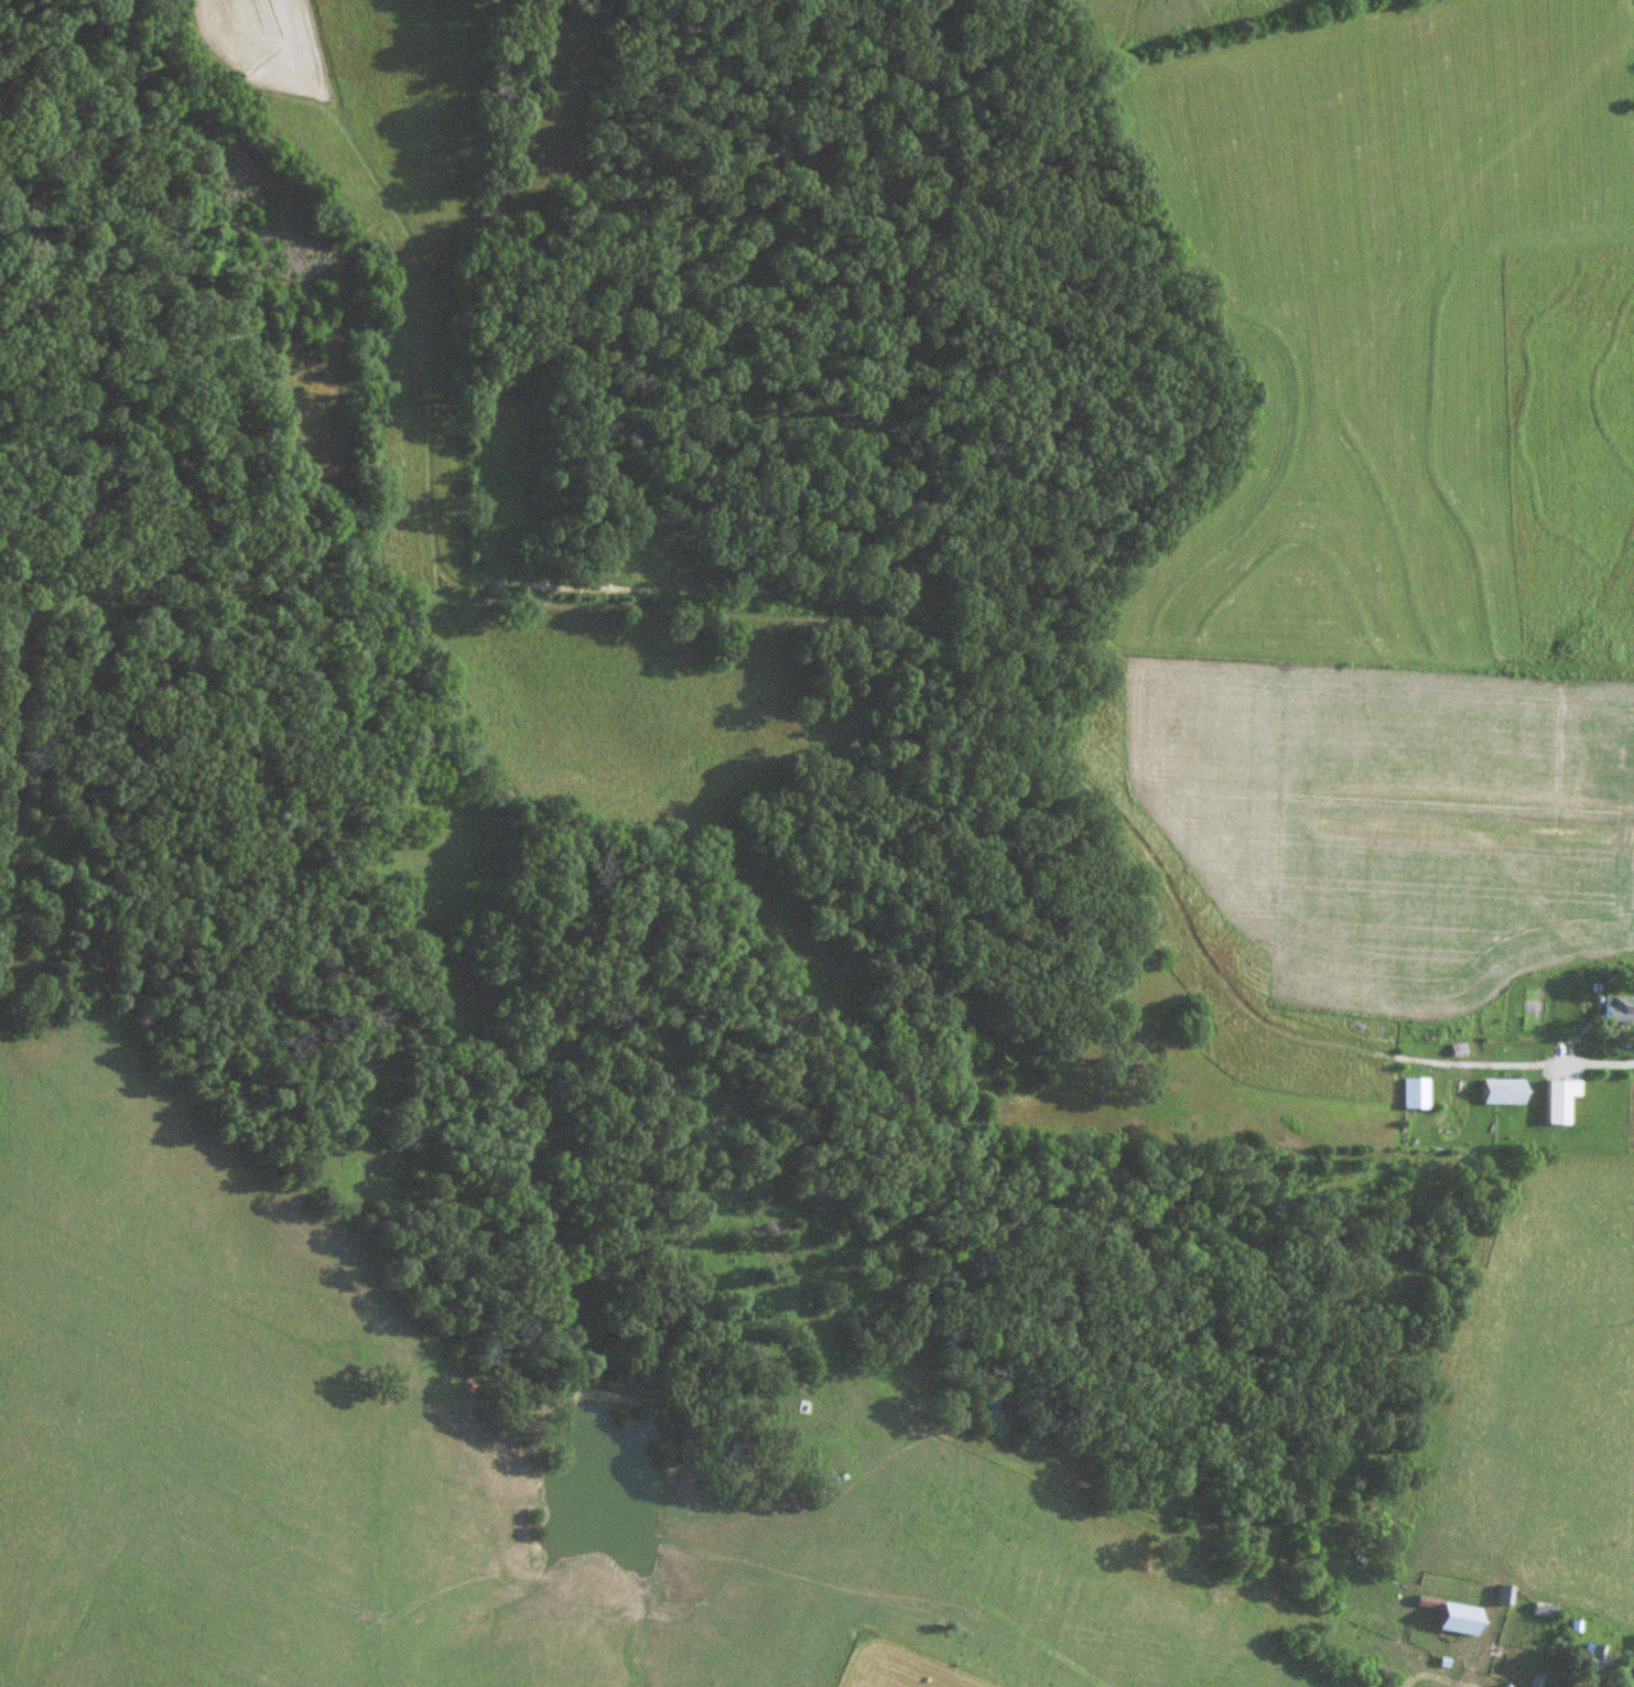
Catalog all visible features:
building: (1617, 1010)
building: (1458, 1050)
road: (1598, 1062)
building: (1501, 1092)
building: (1413, 1093)
building: (1504, 1597)
building: (1540, 1610)
building: (1452, 1619)
building: (1587, 1657)
building: (1633, 1678)

